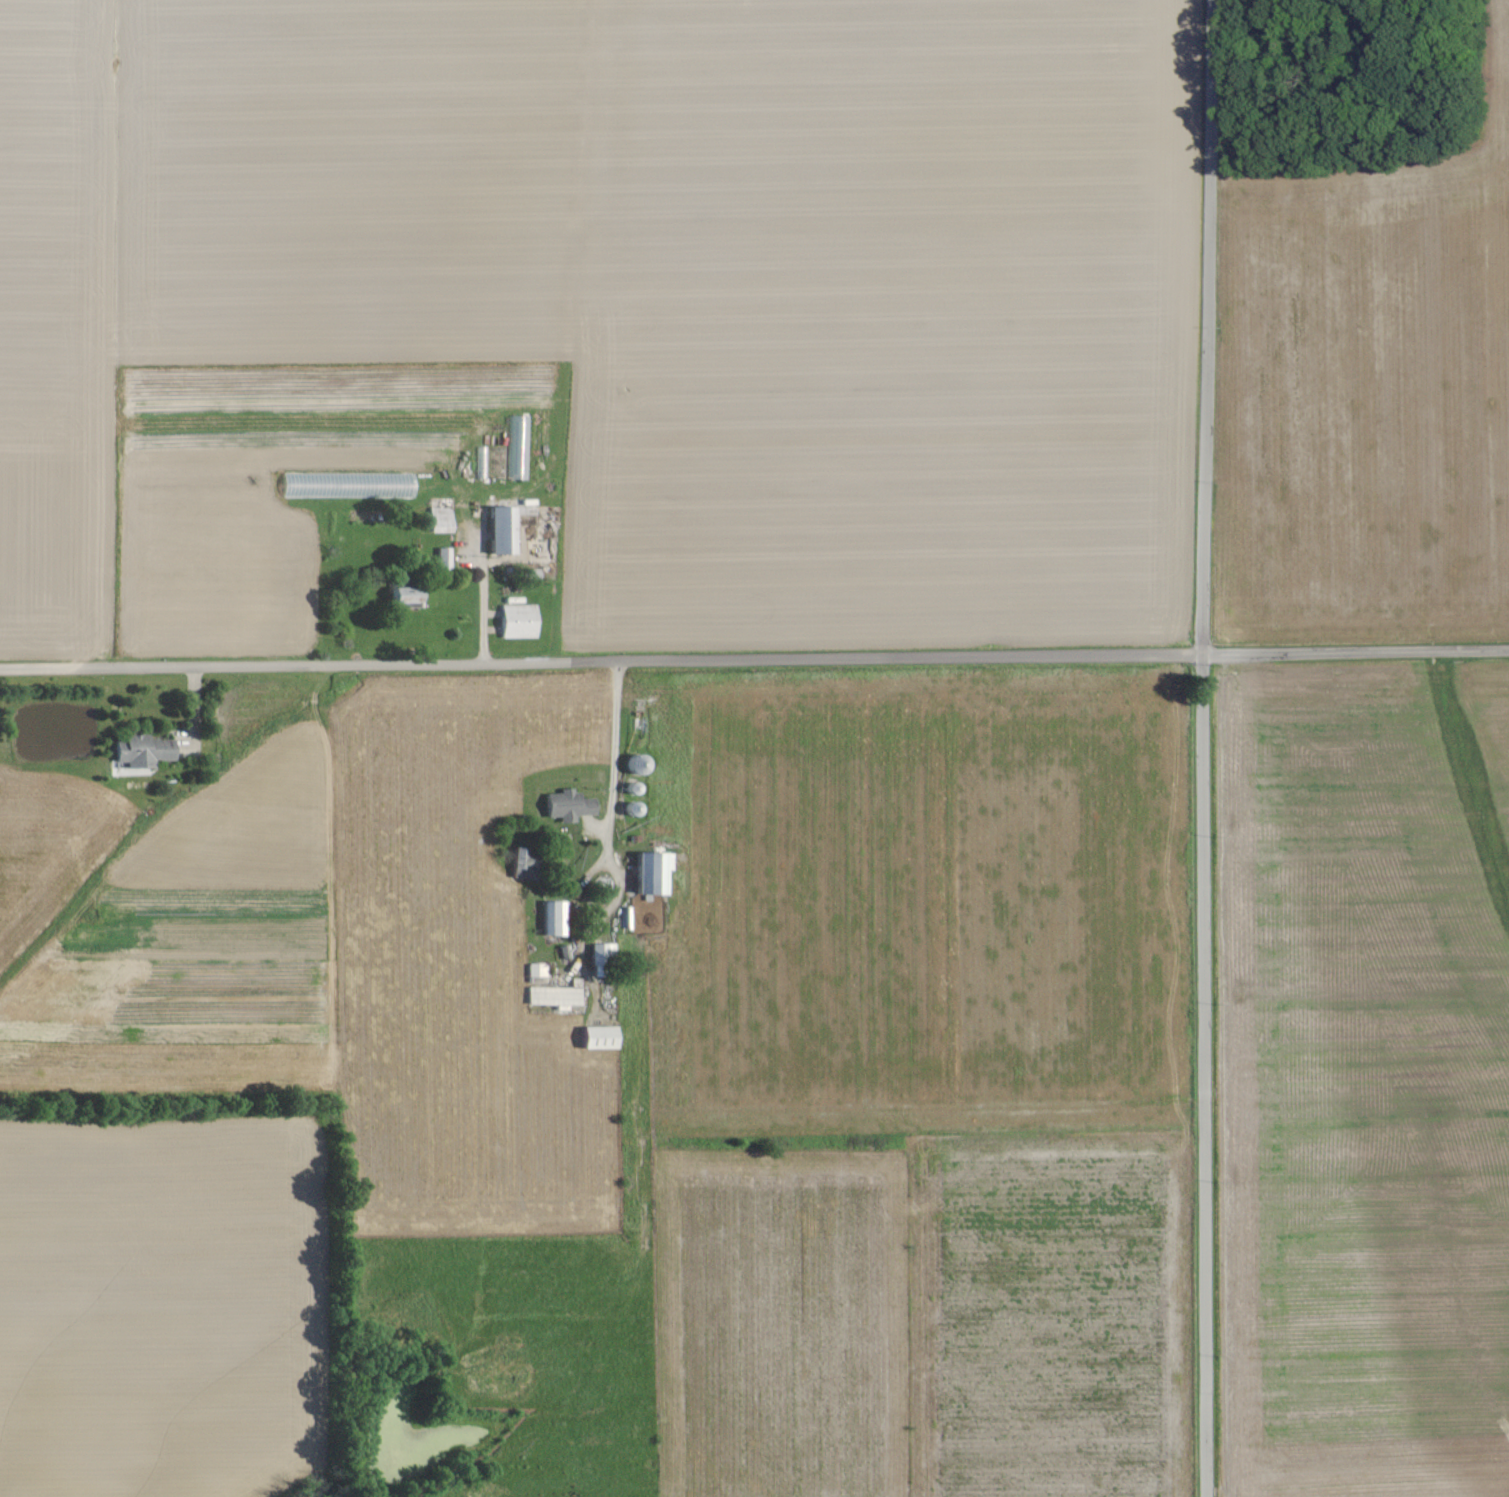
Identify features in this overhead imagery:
building: (514, 449)
building: (435, 522)
building: (496, 532)
building: (439, 560)
road: (483, 587)
building: (399, 598)
building: (514, 623)
road: (754, 659)
road: (1201, 748)
building: (138, 754)
building: (632, 767)
building: (563, 808)
building: (517, 866)
building: (647, 875)
building: (550, 921)
building: (597, 955)
building: (533, 972)
building: (550, 998)
building: (593, 1040)

